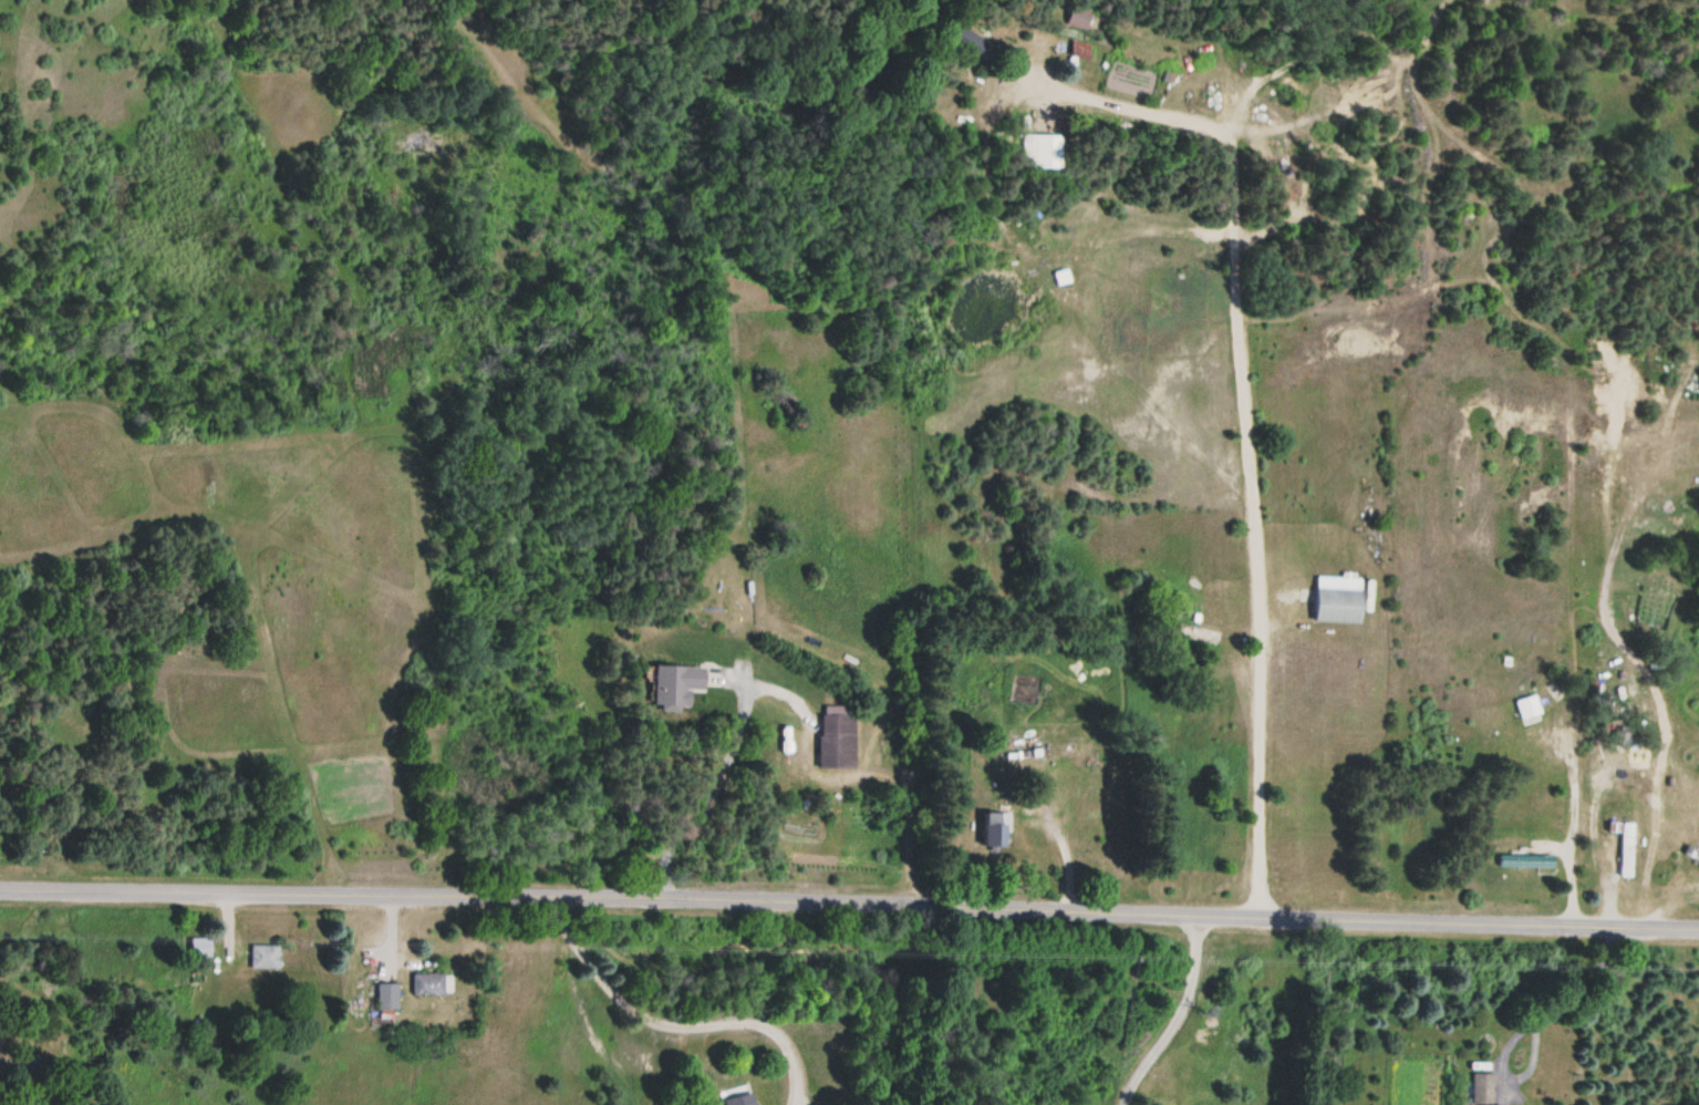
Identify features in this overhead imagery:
building: (1079, 14)
building: (964, 40)
building: (1078, 49)
building: (1035, 149)
road: (1236, 401)
building: (1337, 598)
building: (1204, 633)
building: (674, 684)
building: (1526, 706)
building: (836, 736)
building: (993, 828)
building: (1625, 848)
building: (1691, 853)
building: (1525, 860)
road: (849, 902)
building: (199, 947)
building: (263, 956)
building: (428, 983)
building: (386, 1000)
building: (22, 1065)
building: (1481, 1088)
building: (740, 1098)

